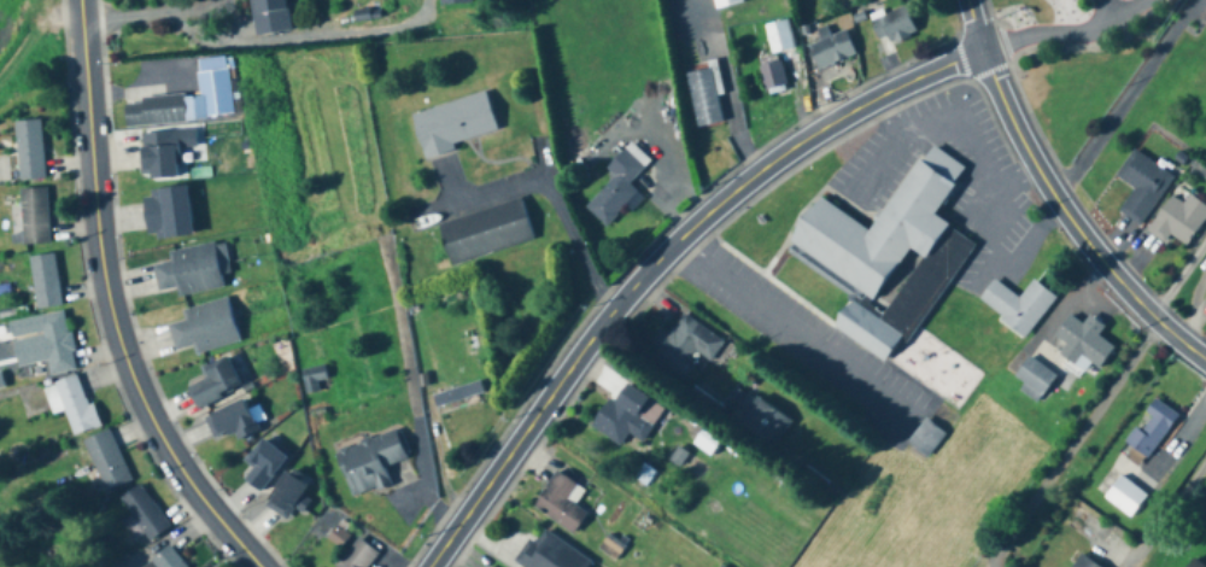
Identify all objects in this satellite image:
parking lot: (1079, 1)
building: (725, 4)
road: (1105, 10)
building: (270, 17)
building: (894, 28)
road: (1064, 35)
road: (262, 36)
building: (778, 37)
building: (830, 49)
building: (772, 77)
building: (212, 88)
building: (703, 95)
road: (1125, 99)
road: (734, 104)
building: (158, 112)
road: (950, 119)
building: (453, 125)
building: (35, 151)
building: (163, 153)
building: (7, 171)
road: (1011, 175)
building: (617, 186)
building: (1141, 187)
road: (663, 194)
road: (1056, 198)
road: (551, 211)
building: (165, 214)
building: (40, 217)
building: (1177, 220)
building: (484, 233)
building: (890, 255)
road: (660, 261)
building: (192, 269)
road: (1177, 269)
building: (51, 282)
road: (111, 302)
building: (1017, 304)
building: (205, 327)
road: (788, 329)
building: (63, 343)
building: (684, 344)
building: (1083, 344)
building: (1032, 379)
building: (213, 382)
building: (461, 396)
building: (78, 404)
building: (627, 416)
building: (232, 421)
building: (760, 421)
building: (1151, 431)
building: (925, 439)
road: (1070, 440)
building: (706, 443)
building: (112, 461)
building: (370, 463)
building: (263, 466)
building: (1124, 497)
building: (288, 498)
building: (1205, 502)
building: (561, 503)
road: (1163, 510)
building: (151, 514)
building: (549, 553)
building: (358, 556)
building: (172, 560)
building: (1081, 562)
building: (1194, 563)

